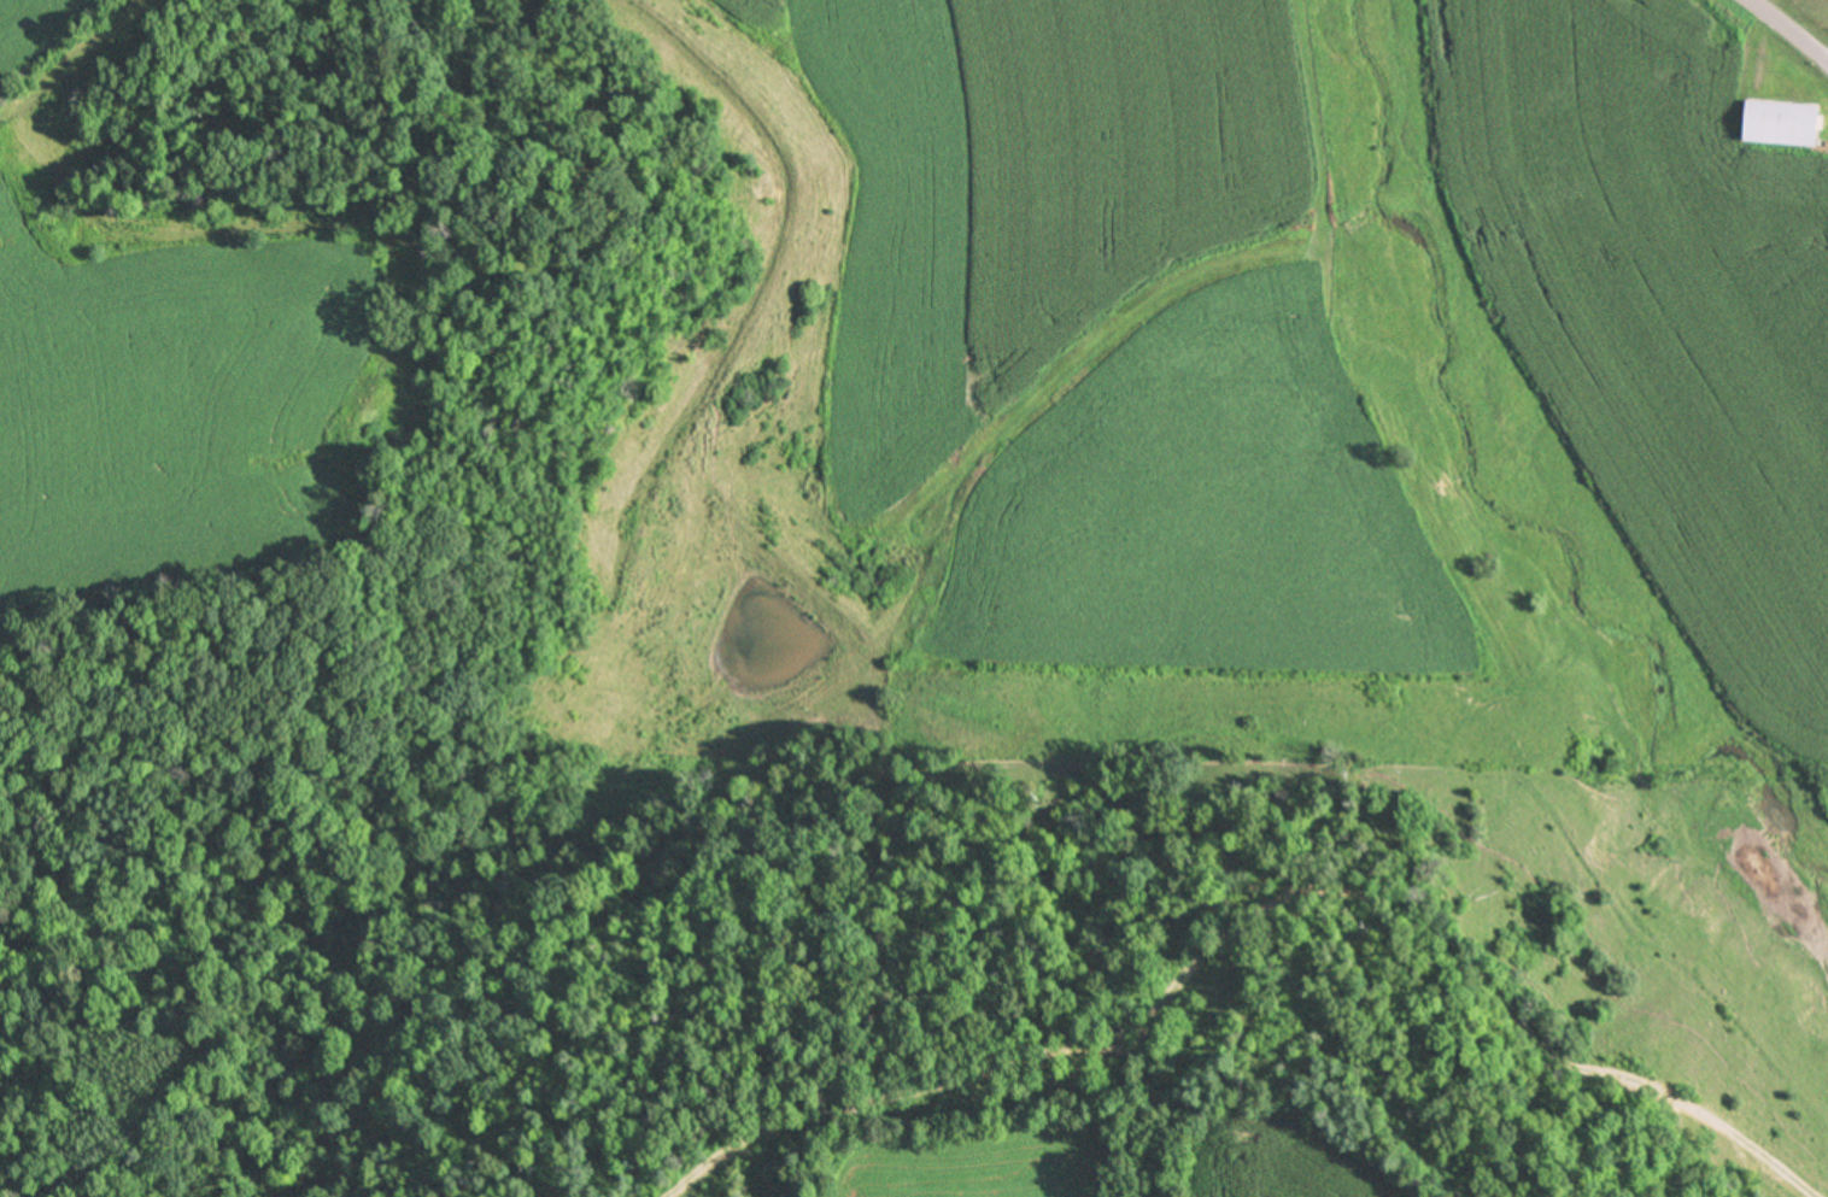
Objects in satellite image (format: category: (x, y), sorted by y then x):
road: (1788, 30)
building: (1787, 123)

